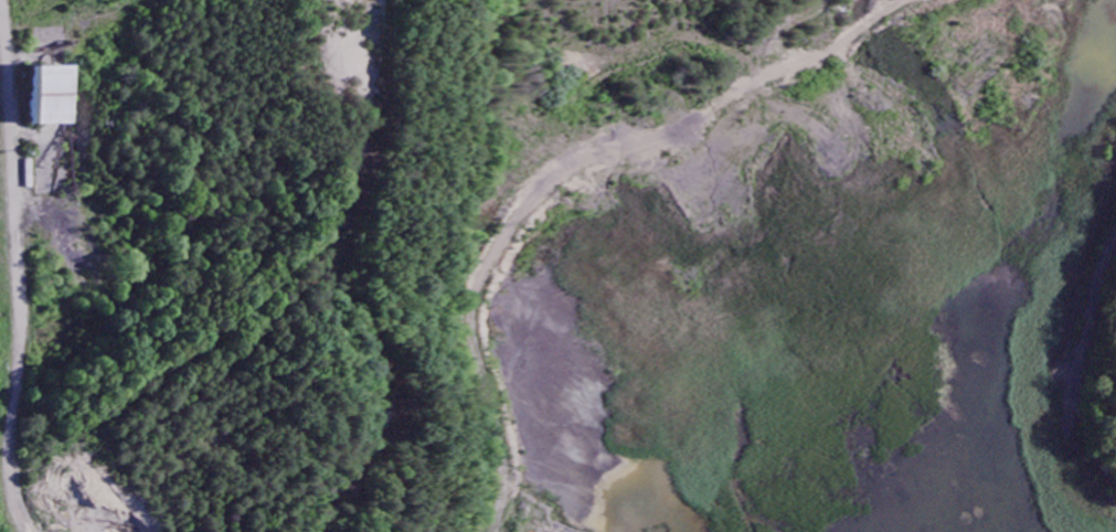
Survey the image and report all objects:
building: (51, 99)
road: (14, 298)

